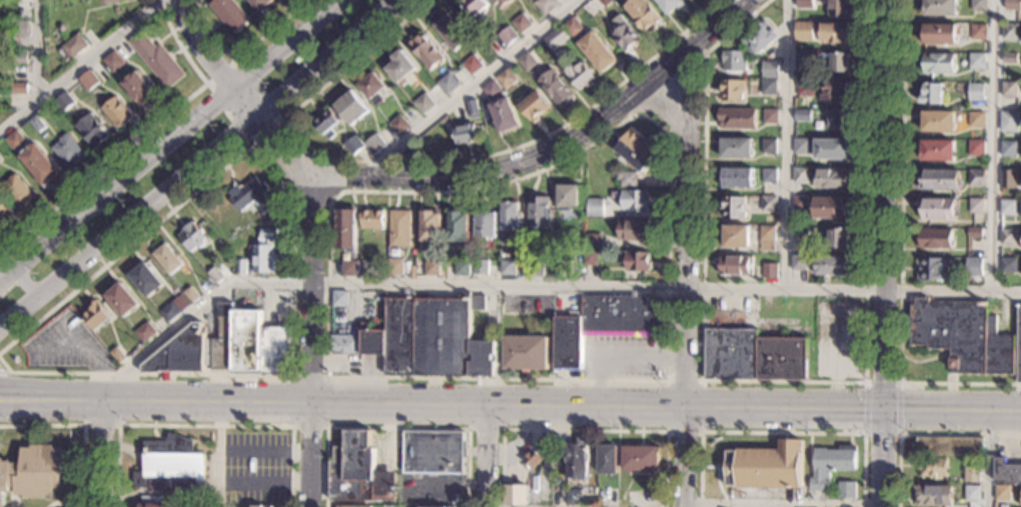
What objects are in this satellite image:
building: (111, 1)
building: (804, 1)
building: (605, 2)
building: (259, 3)
building: (500, 3)
building: (545, 5)
building: (669, 5)
building: (978, 5)
building: (1012, 5)
building: (474, 8)
building: (839, 8)
building: (941, 8)
building: (229, 14)
building: (642, 14)
building: (6, 23)
building: (520, 23)
building: (802, 26)
building: (572, 27)
building: (61, 28)
building: (20, 29)
building: (978, 31)
building: (1010, 31)
building: (450, 32)
building: (836, 32)
building: (622, 33)
building: (939, 34)
building: (506, 36)
building: (556, 38)
building: (758, 40)
road: (693, 43)
building: (72, 47)
road: (200, 47)
road: (37, 51)
building: (597, 52)
building: (425, 53)
road: (241, 55)
building: (19, 58)
road: (323, 58)
building: (803, 58)
building: (1010, 58)
building: (157, 60)
building: (113, 61)
building: (526, 61)
building: (733, 61)
building: (826, 61)
building: (977, 61)
building: (839, 62)
building: (471, 64)
building: (939, 64)
road: (80, 66)
building: (399, 67)
building: (769, 69)
building: (581, 75)
building: (505, 78)
building: (88, 80)
building: (447, 83)
road: (467, 86)
building: (768, 86)
building: (18, 88)
building: (139, 88)
building: (372, 88)
building: (556, 88)
building: (805, 88)
building: (731, 89)
building: (491, 90)
building: (1009, 90)
building: (837, 91)
building: (976, 91)
building: (931, 94)
building: (64, 101)
building: (423, 104)
road: (621, 105)
building: (533, 106)
building: (351, 108)
building: (472, 109)
building: (116, 112)
building: (803, 114)
building: (503, 115)
building: (770, 116)
building: (737, 118)
building: (839, 119)
building: (977, 120)
road: (278, 121)
building: (937, 121)
building: (1009, 122)
building: (326, 123)
building: (37, 124)
building: (398, 124)
building: (92, 130)
road: (177, 134)
building: (465, 134)
road: (139, 138)
building: (14, 140)
building: (375, 144)
road: (786, 144)
building: (354, 145)
road: (995, 145)
building: (768, 146)
building: (801, 146)
building: (736, 148)
building: (831, 149)
building: (976, 149)
building: (1008, 149)
building: (68, 150)
building: (635, 150)
building: (938, 151)
road: (423, 163)
building: (39, 164)
road: (496, 167)
building: (768, 175)
building: (800, 175)
building: (976, 177)
building: (737, 178)
building: (831, 178)
building: (1007, 178)
building: (626, 179)
building: (938, 180)
road: (332, 183)
road: (171, 184)
building: (18, 191)
building: (567, 196)
building: (253, 198)
building: (634, 200)
building: (769, 203)
building: (800, 203)
building: (976, 206)
building: (830, 207)
building: (1008, 207)
building: (594, 208)
building: (732, 208)
building: (936, 209)
building: (4, 211)
building: (539, 212)
building: (510, 216)
building: (372, 219)
building: (485, 224)
building: (430, 226)
building: (458, 226)
building: (345, 228)
building: (400, 229)
building: (633, 229)
building: (800, 231)
building: (974, 232)
building: (193, 236)
road: (293, 237)
building: (736, 237)
building: (767, 238)
building: (838, 238)
building: (935, 238)
building: (1008, 238)
building: (591, 240)
building: (437, 251)
building: (265, 253)
road: (887, 253)
road: (900, 253)
building: (591, 258)
building: (167, 259)
building: (636, 260)
building: (798, 262)
building: (1008, 265)
building: (736, 266)
building: (832, 266)
building: (973, 266)
building: (240, 267)
building: (367, 267)
building: (396, 267)
building: (480, 267)
building: (508, 267)
building: (564, 268)
building: (351, 269)
building: (432, 269)
building: (462, 269)
building: (536, 269)
building: (769, 270)
building: (932, 270)
road: (7, 271)
building: (218, 273)
road: (64, 274)
road: (7, 277)
building: (146, 280)
road: (684, 280)
building: (817, 281)
road: (26, 283)
road: (542, 284)
road: (309, 286)
building: (192, 295)
building: (340, 299)
building: (122, 300)
building: (183, 303)
building: (478, 303)
building: (502, 309)
road: (19, 311)
building: (169, 312)
building: (96, 316)
building: (604, 323)
building: (145, 332)
building: (962, 336)
building: (429, 340)
parking lot: (836, 340)
parking lot: (66, 343)
building: (344, 345)
building: (1019, 346)
building: (226, 347)
road: (90, 348)
building: (526, 353)
building: (117, 355)
road: (616, 356)
building: (753, 357)
road: (836, 358)
road: (89, 361)
road: (3, 373)
road: (851, 377)
road: (394, 378)
road: (769, 384)
road: (154, 399)
road: (665, 405)
traffic signals: (886, 410)
road: (84, 416)
road: (83, 425)
road: (203, 426)
road: (218, 426)
road: (325, 428)
road: (395, 428)
road: (484, 429)
road: (582, 430)
road: (699, 432)
road: (781, 433)
road: (897, 434)
road: (923, 434)
building: (949, 446)
road: (103, 452)
building: (434, 452)
road: (309, 453)
road: (485, 455)
building: (532, 459)
building: (640, 459)
road: (989, 459)
building: (577, 460)
building: (607, 460)
building: (831, 465)
building: (173, 466)
building: (764, 466)
building: (933, 466)
road: (710, 468)
road: (218, 469)
parking lot: (257, 470)
building: (972, 470)
building: (1007, 471)
building: (359, 472)
building: (33, 473)
road: (141, 476)
building: (139, 480)
road: (718, 487)
building: (847, 490)
building: (972, 493)
building: (1002, 493)
building: (516, 495)
building: (933, 495)
building: (574, 496)
building: (607, 497)
road: (12, 500)
road: (14, 504)
road: (65, 504)
road: (772, 504)
building: (153, 505)
building: (259, 506)
building: (357, 506)
building: (435, 506)

